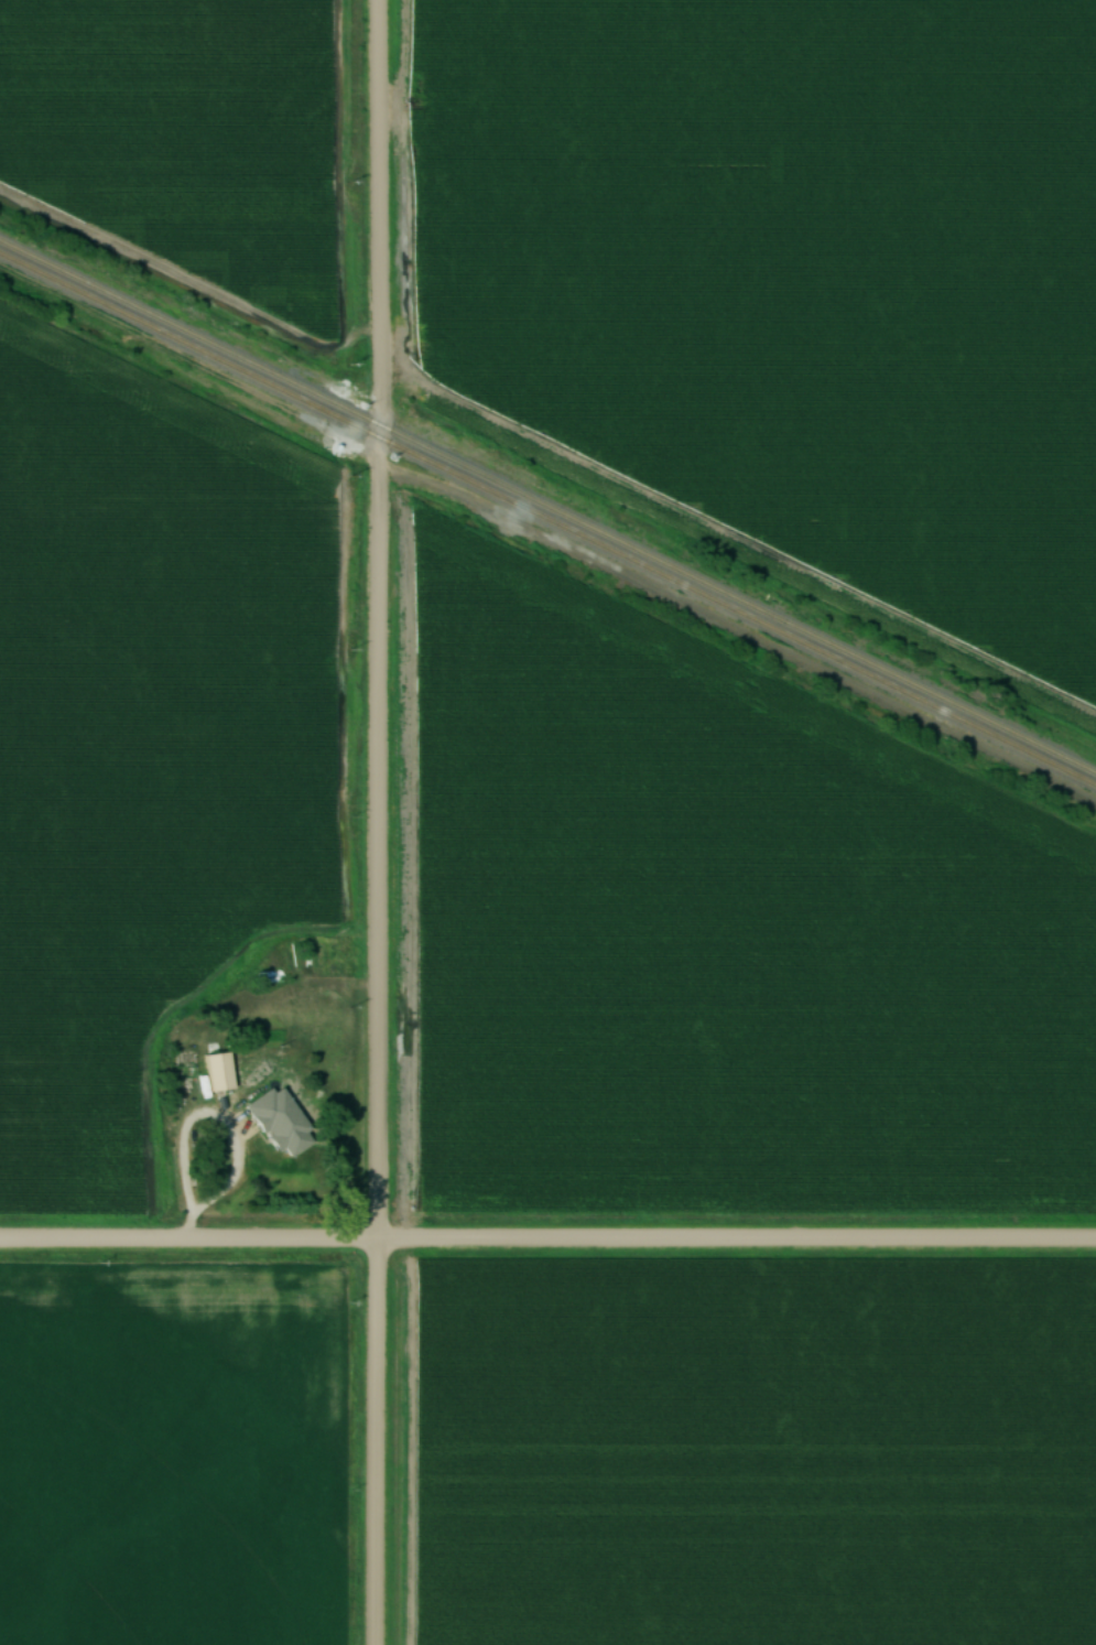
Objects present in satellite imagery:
railway: (547, 508)
railway: (547, 521)
road: (376, 822)
building: (316, 955)
road: (236, 1178)
road: (547, 1242)

